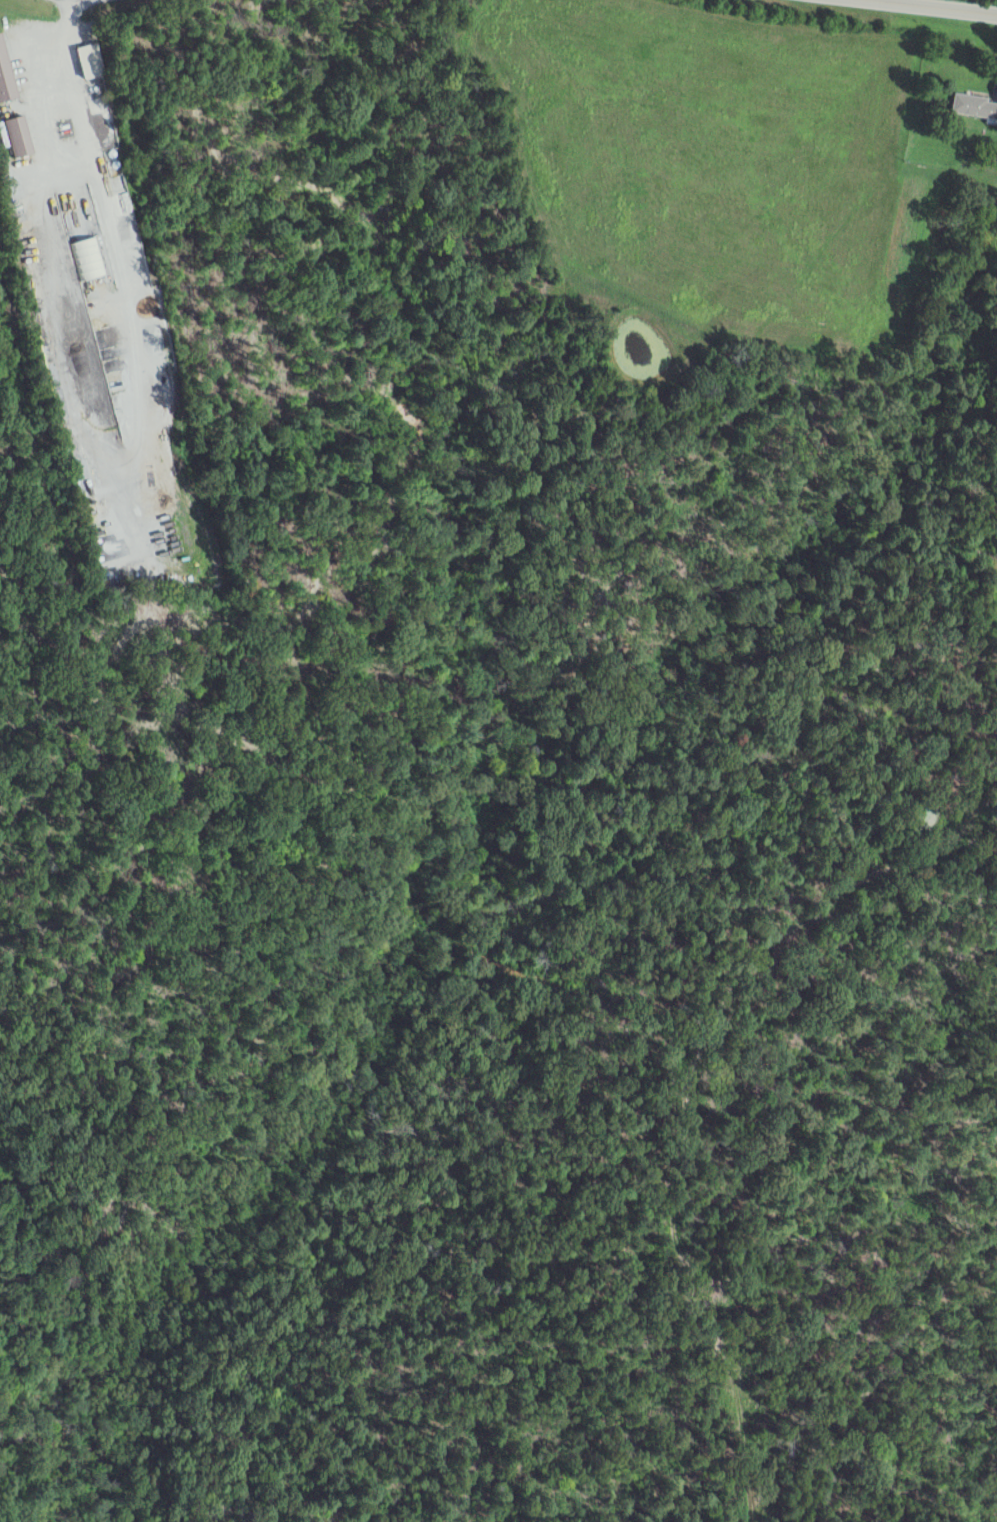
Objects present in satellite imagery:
road: (937, 8)
building: (91, 60)
road: (994, 72)
building: (7, 74)
building: (974, 105)
building: (20, 136)
building: (86, 259)

